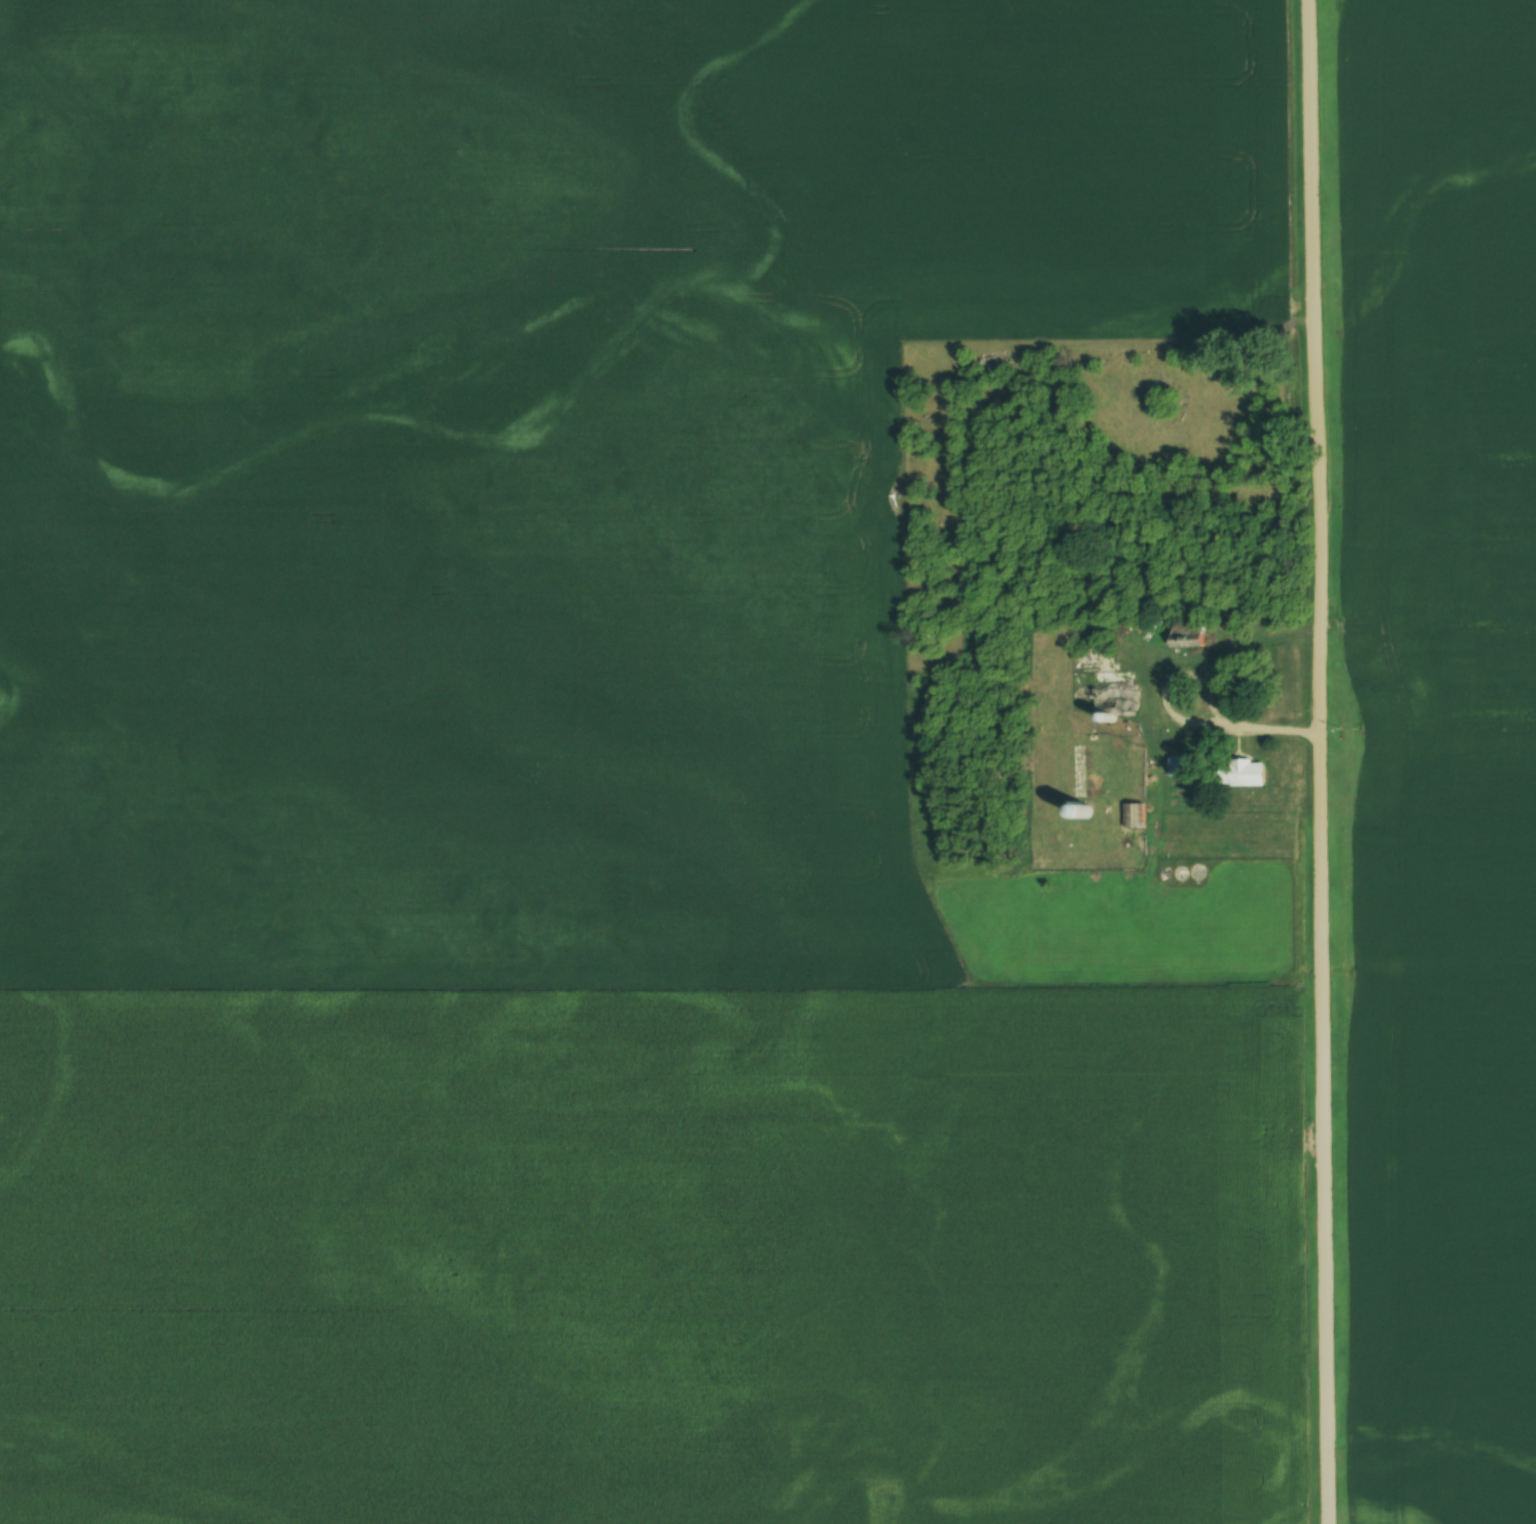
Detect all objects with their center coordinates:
building: (1246, 685)
road: (1320, 762)
building: (1186, 766)
building: (1249, 774)
building: (1136, 816)

